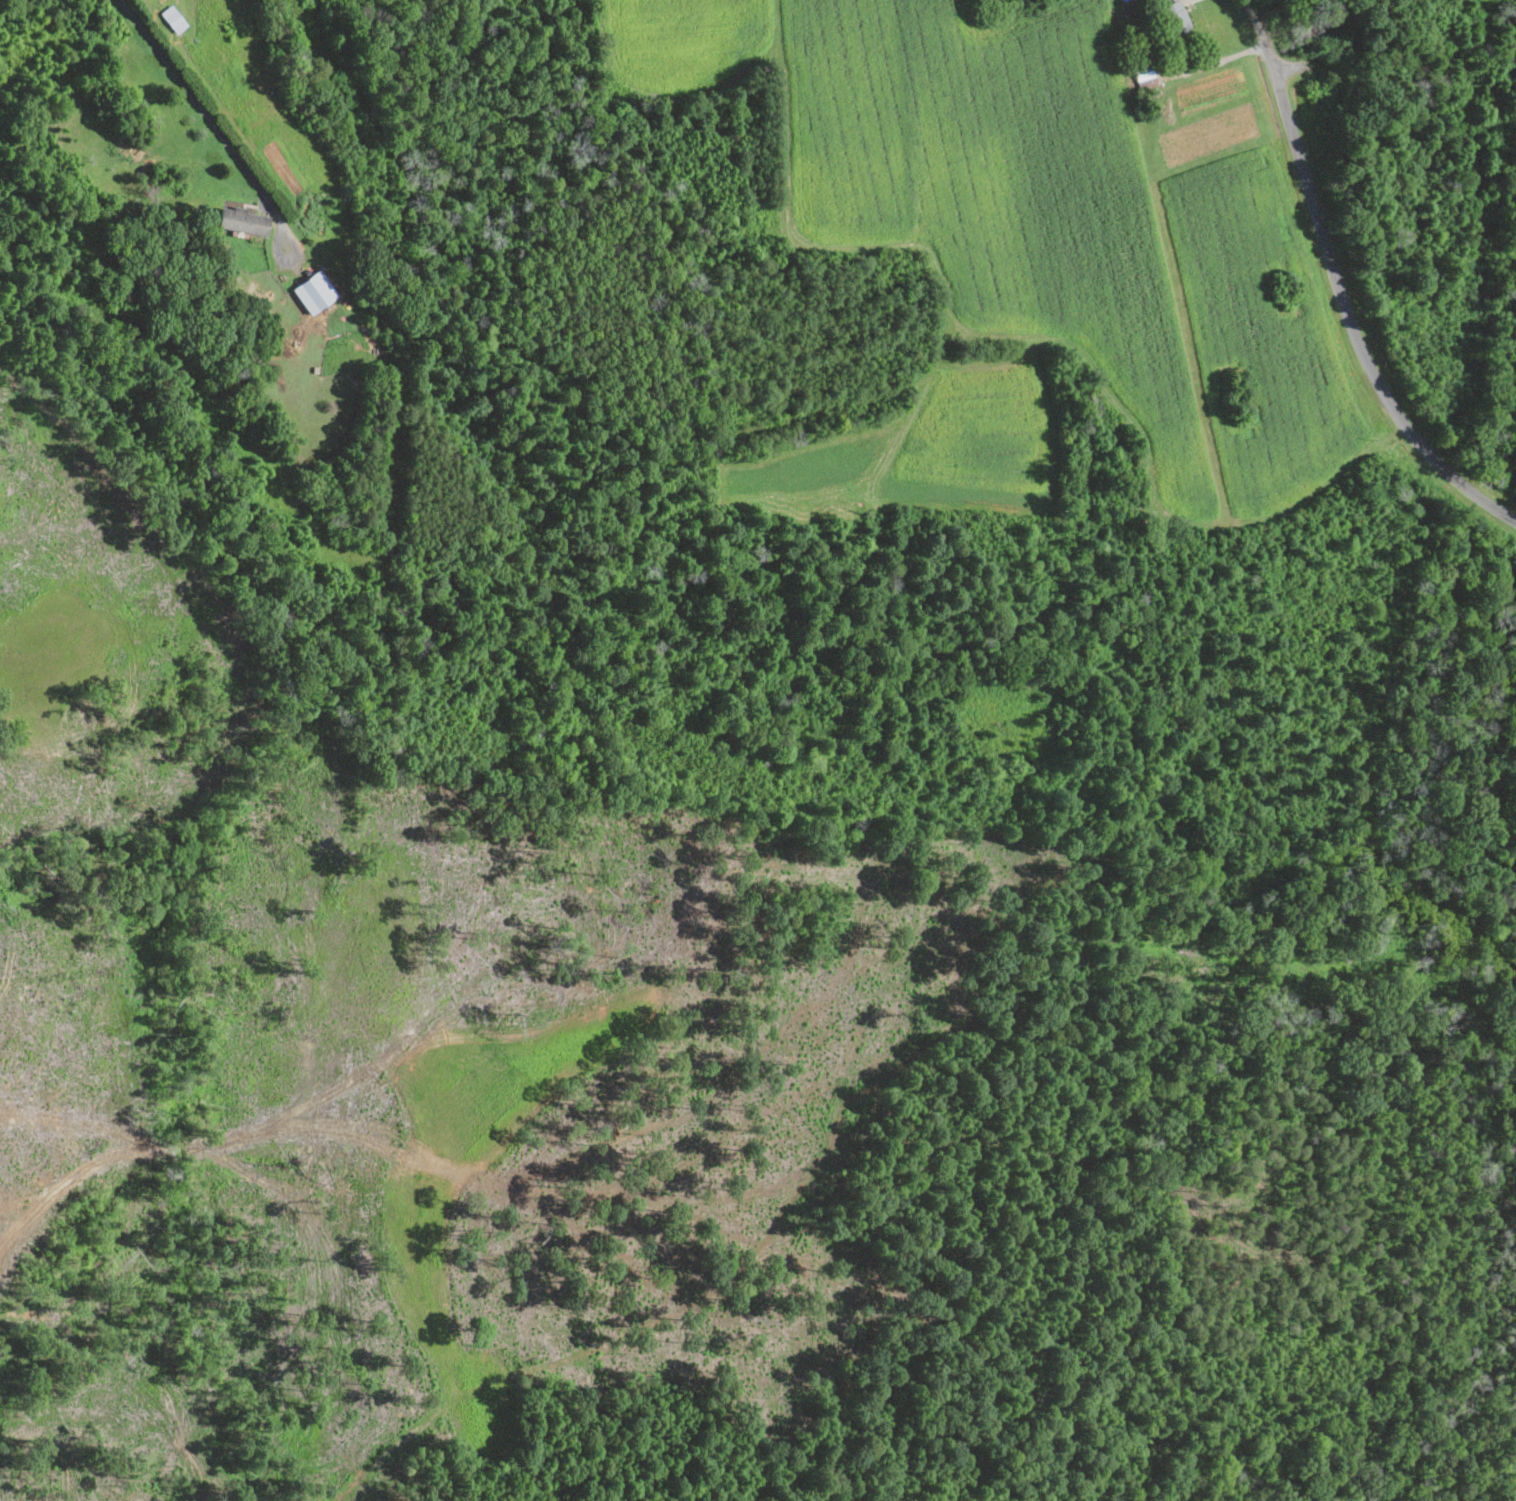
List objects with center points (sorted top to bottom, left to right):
building: (1174, 18)
building: (172, 19)
road: (1219, 61)
road: (213, 125)
building: (242, 221)
road: (1340, 285)
building: (313, 292)

